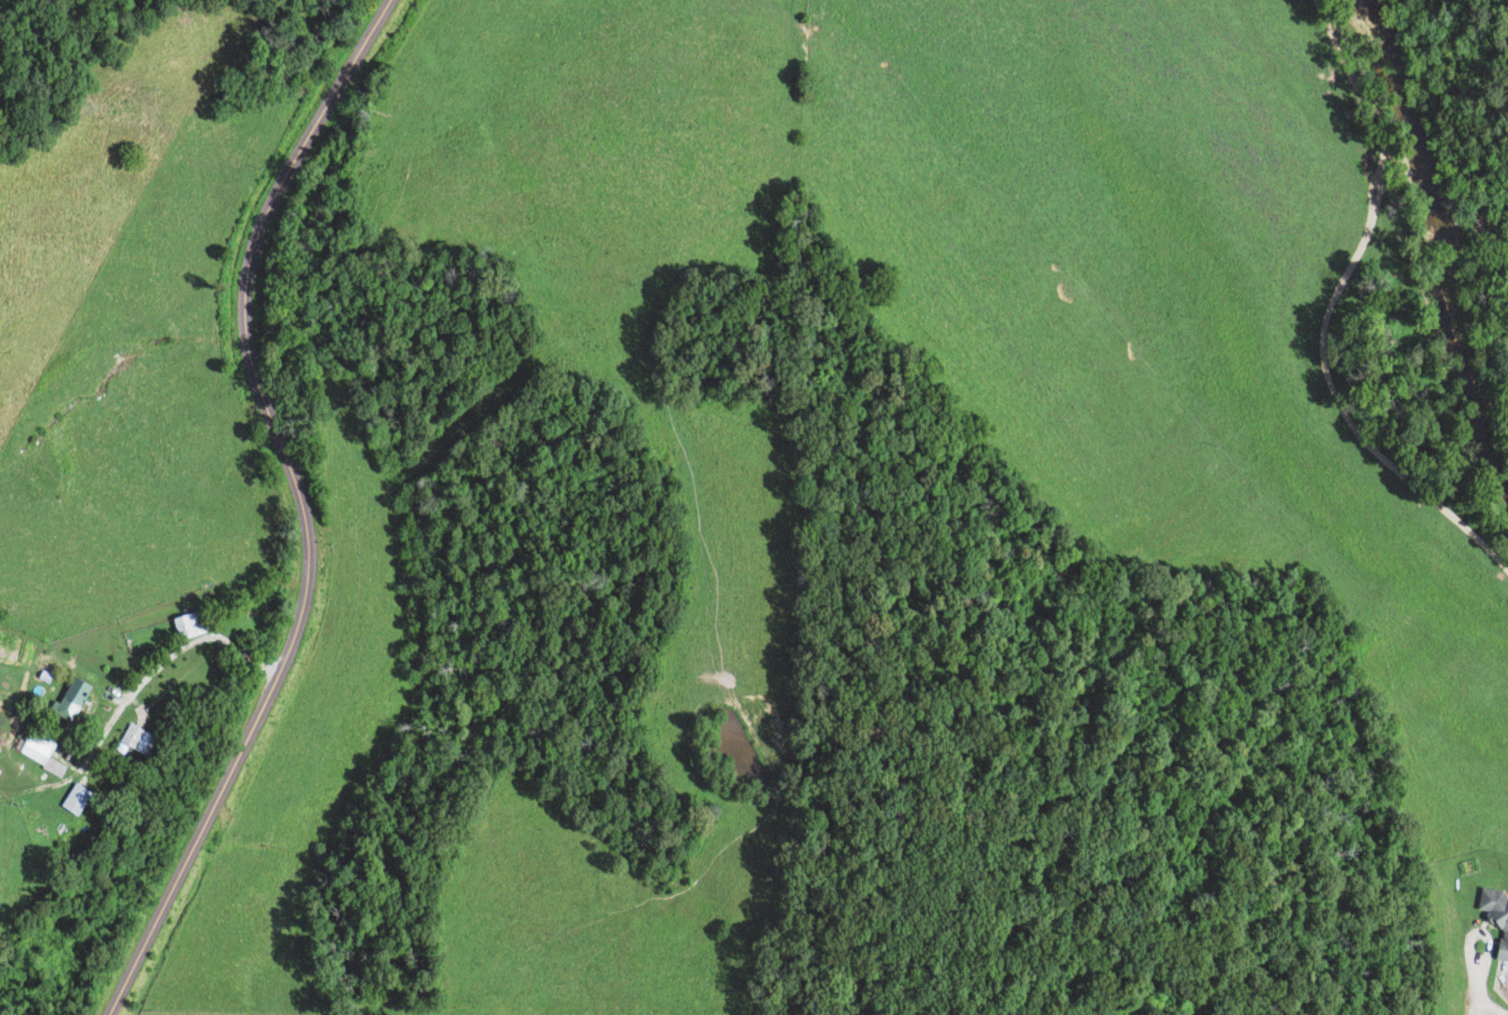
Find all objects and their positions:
road: (1390, 139)
road: (1325, 384)
road: (300, 506)
building: (186, 626)
building: (65, 705)
building: (135, 740)
building: (39, 753)
building: (73, 800)
building: (1495, 922)
road: (298, 949)
road: (1476, 995)

